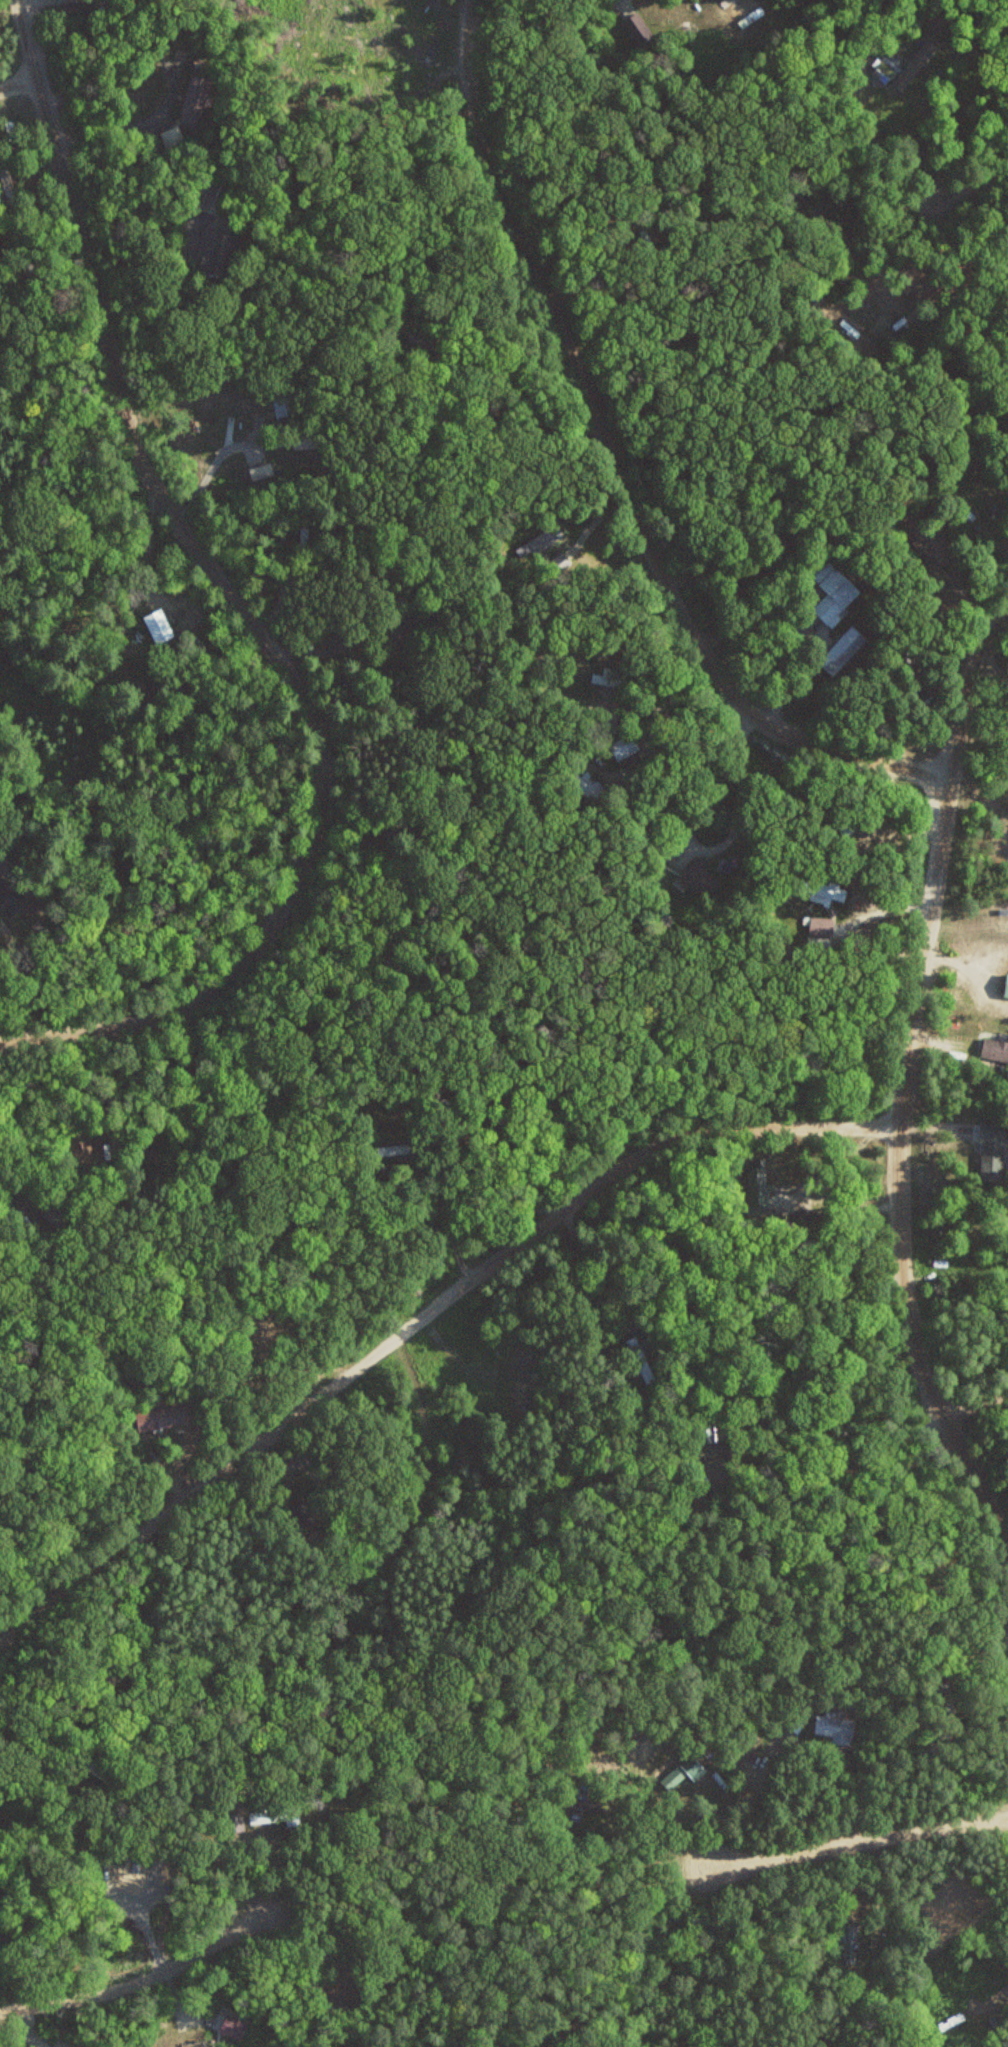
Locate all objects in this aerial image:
building: (720, 1)
building: (80, 11)
building: (637, 28)
building: (916, 64)
building: (885, 71)
road: (21, 83)
building: (195, 99)
building: (173, 138)
building: (7, 183)
road: (948, 197)
building: (219, 252)
building: (426, 348)
building: (283, 395)
building: (440, 415)
building: (305, 438)
road: (616, 464)
building: (261, 470)
building: (964, 506)
building: (544, 539)
building: (921, 542)
building: (834, 591)
road: (245, 609)
building: (390, 635)
building: (843, 649)
building: (908, 669)
road: (991, 670)
building: (624, 746)
building: (590, 785)
building: (838, 826)
building: (668, 849)
building: (701, 878)
building: (824, 891)
building: (9, 898)
building: (1006, 986)
building: (995, 1049)
road: (902, 1089)
building: (399, 1149)
building: (992, 1161)
building: (766, 1193)
building: (56, 1215)
road: (604, 1270)
road: (420, 1317)
building: (641, 1359)
road: (973, 1405)
building: (162, 1416)
building: (720, 1477)
building: (304, 1513)
road: (377, 1561)
building: (950, 1702)
building: (796, 1717)
building: (835, 1727)
building: (680, 1772)
building: (582, 1799)
building: (17, 1816)
building: (278, 1817)
building: (235, 1822)
road: (856, 1839)
building: (2, 1934)
building: (849, 1944)
road: (137, 1976)
building: (233, 2028)

